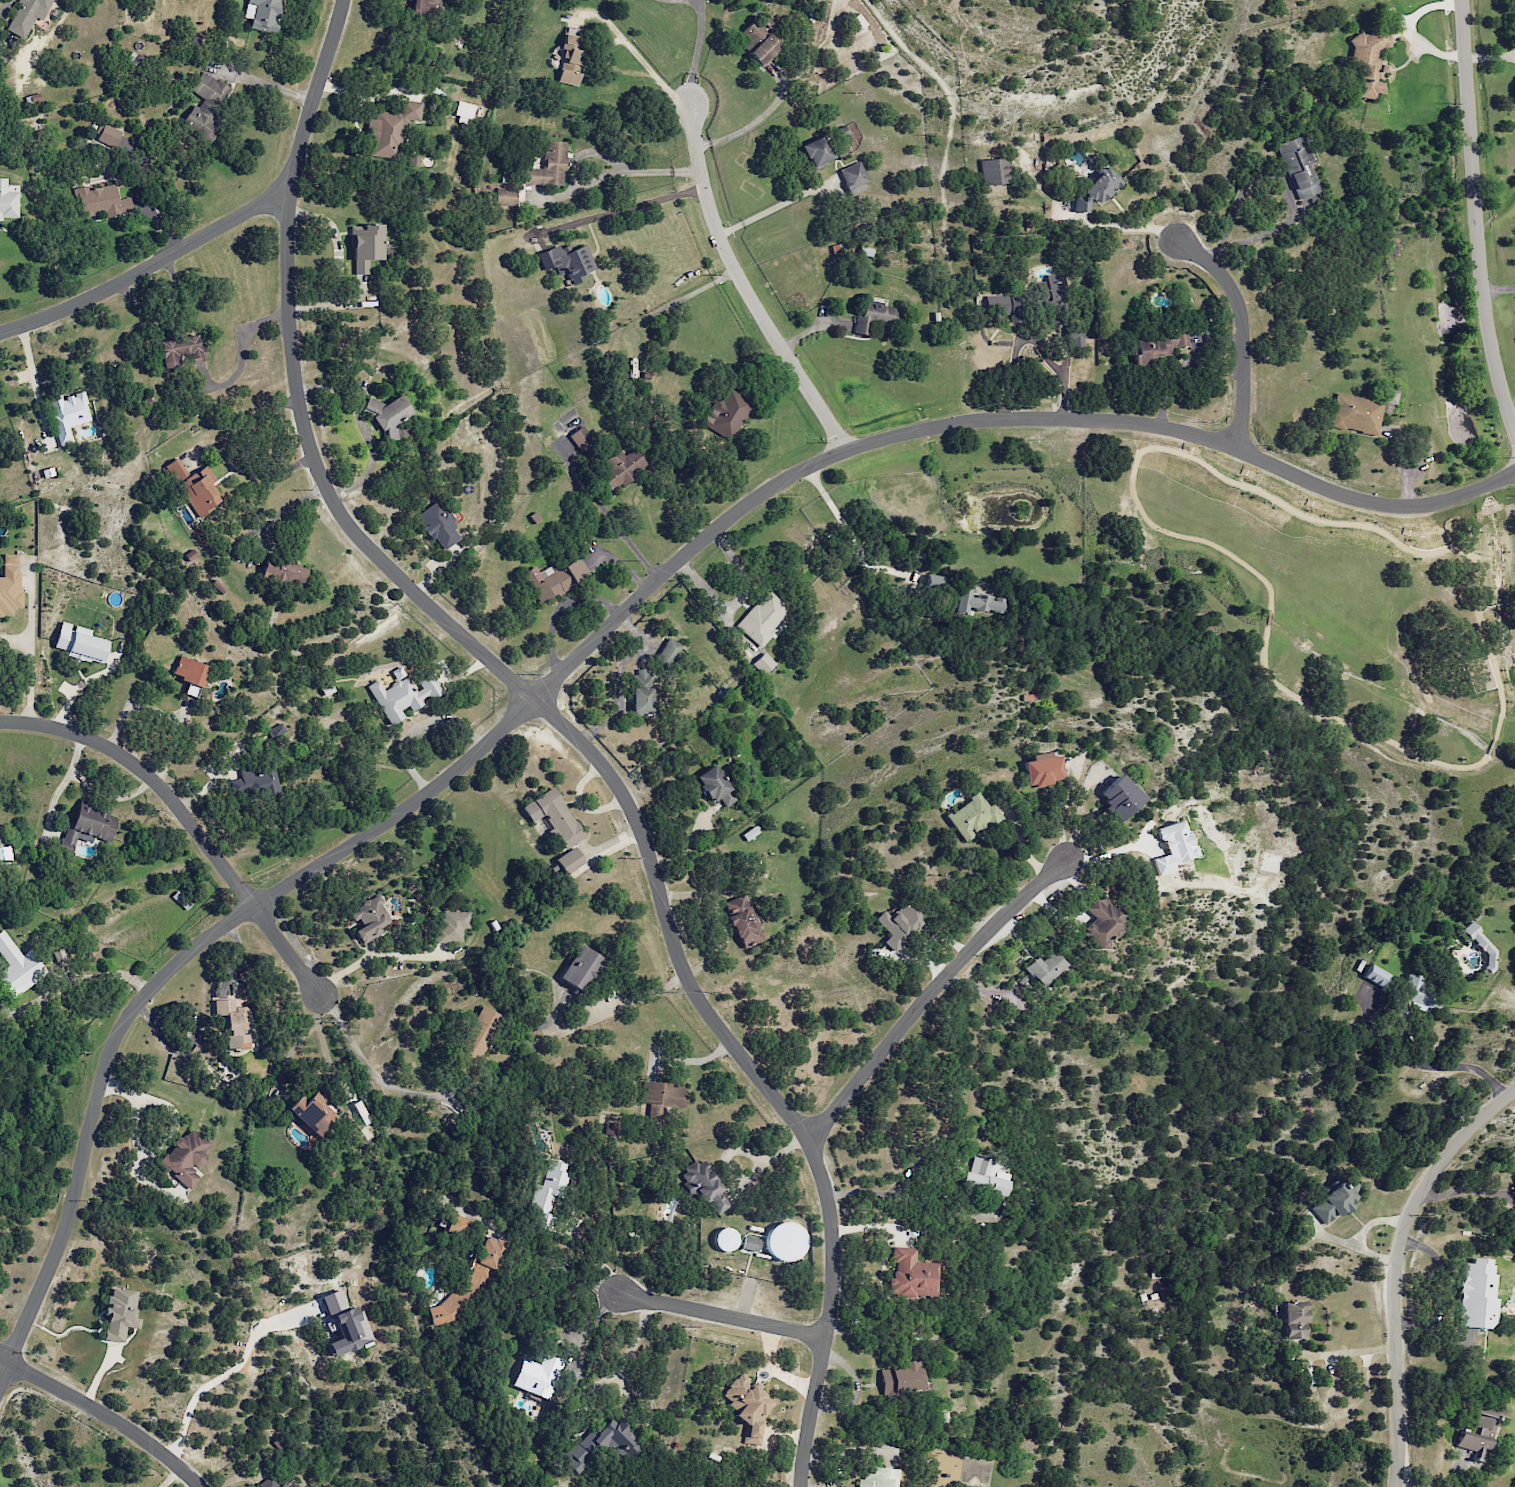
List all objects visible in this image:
building: (416, 6)
road: (7, 8)
building: (261, 14)
building: (26, 15)
building: (755, 41)
road: (696, 54)
building: (569, 55)
road: (648, 71)
road: (265, 84)
building: (206, 104)
building: (463, 112)
building: (388, 129)
road: (748, 129)
building: (106, 135)
building: (817, 155)
building: (548, 166)
building: (853, 179)
road: (588, 180)
building: (1101, 188)
building: (505, 195)
building: (101, 201)
building: (7, 202)
road: (625, 208)
road: (769, 208)
road: (1474, 220)
road: (1116, 230)
building: (363, 247)
building: (565, 261)
road: (149, 268)
road: (743, 287)
road: (1498, 291)
road: (1242, 332)
building: (1154, 347)
building: (176, 350)
road: (245, 354)
road: (1047, 357)
road: (1013, 361)
road: (34, 381)
building: (1358, 411)
building: (68, 414)
building: (385, 415)
road: (228, 456)
road: (367, 468)
building: (47, 474)
building: (192, 486)
road: (1347, 499)
road: (617, 525)
building: (439, 526)
road: (852, 536)
road: (264, 539)
building: (279, 574)
building: (559, 580)
building: (9, 585)
building: (976, 602)
park: (1321, 635)
building: (77, 644)
road: (27, 671)
building: (190, 673)
road: (615, 679)
building: (402, 697)
road: (130, 703)
building: (644, 703)
road: (416, 727)
road: (564, 727)
road: (169, 746)
road: (1494, 748)
road: (475, 751)
building: (1042, 769)
building: (715, 786)
building: (1118, 797)
building: (552, 813)
building: (972, 816)
road: (183, 817)
building: (93, 824)
building: (1171, 846)
building: (569, 859)
building: (367, 918)
building: (741, 921)
building: (1100, 922)
building: (451, 925)
building: (897, 925)
building: (1480, 944)
building: (19, 968)
building: (580, 968)
building: (1043, 968)
building: (1375, 975)
road: (931, 989)
building: (1419, 994)
building: (233, 1022)
building: (480, 1034)
road: (364, 1060)
road: (1455, 1067)
building: (664, 1094)
building: (313, 1112)
building: (609, 1129)
building: (185, 1157)
building: (984, 1176)
building: (704, 1186)
building: (546, 1192)
road: (875, 1193)
building: (1333, 1199)
building: (457, 1225)
building: (724, 1239)
building: (784, 1241)
road: (1396, 1267)
road: (566, 1269)
building: (911, 1275)
building: (468, 1282)
building: (1476, 1294)
building: (119, 1313)
road: (719, 1316)
building: (1293, 1319)
building: (345, 1324)
road: (583, 1341)
road: (631, 1345)
road: (1350, 1352)
road: (226, 1371)
building: (536, 1375)
building: (901, 1378)
building: (746, 1407)
road: (102, 1415)
building: (1477, 1437)
building: (601, 1445)
building: (877, 1478)
building: (274, 1482)

